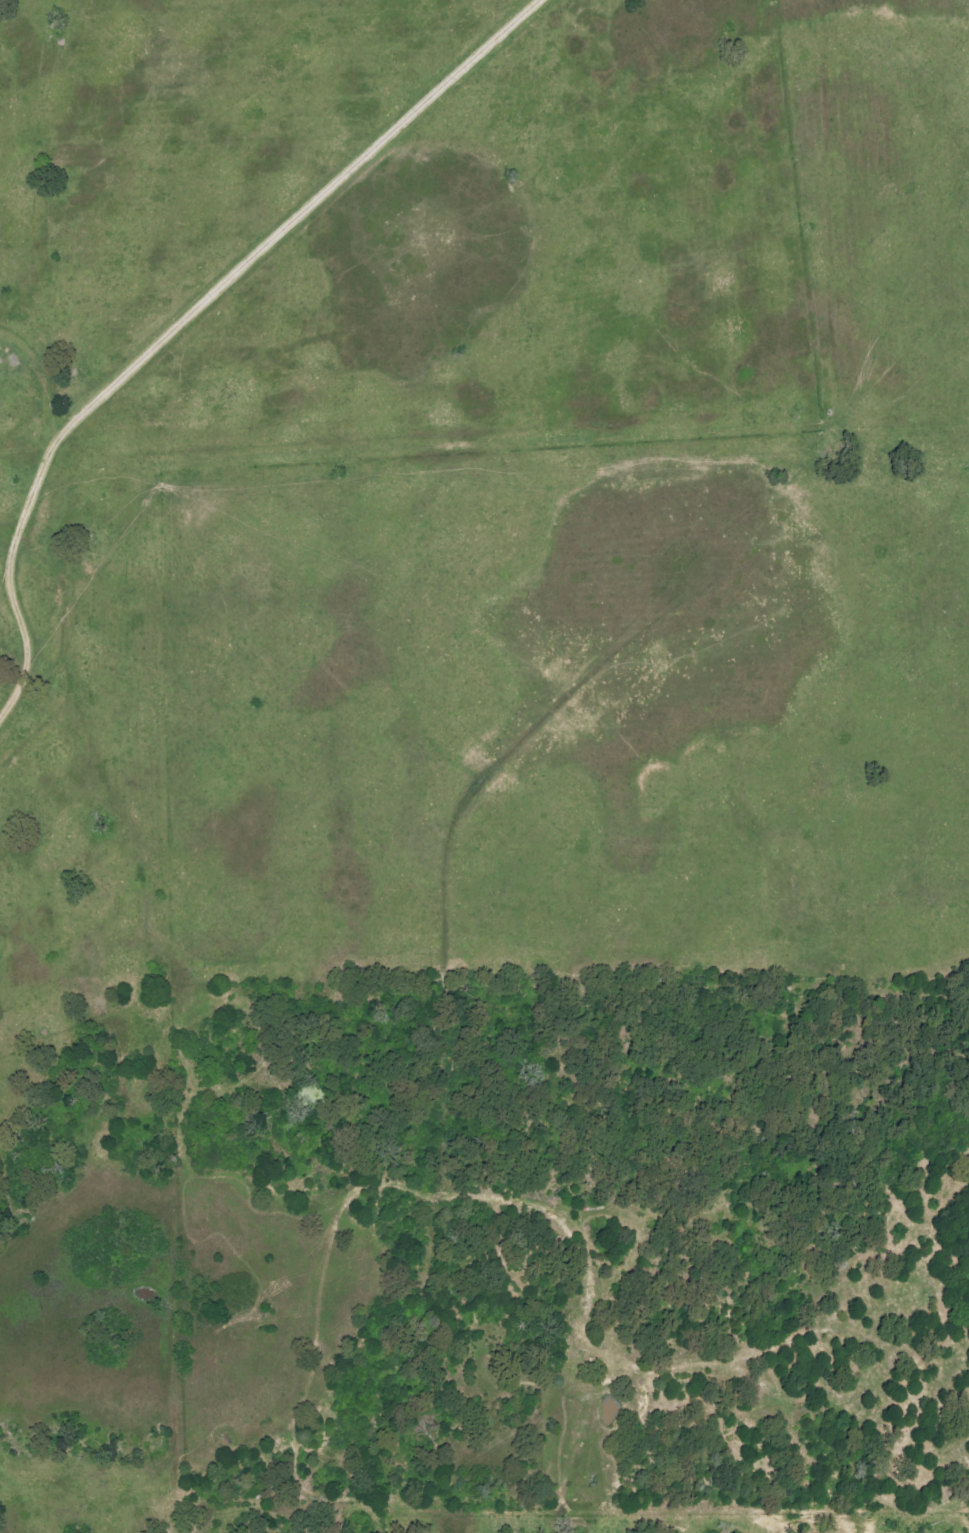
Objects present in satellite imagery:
road: (24, 496)
road: (221, 626)
road: (325, 1140)

